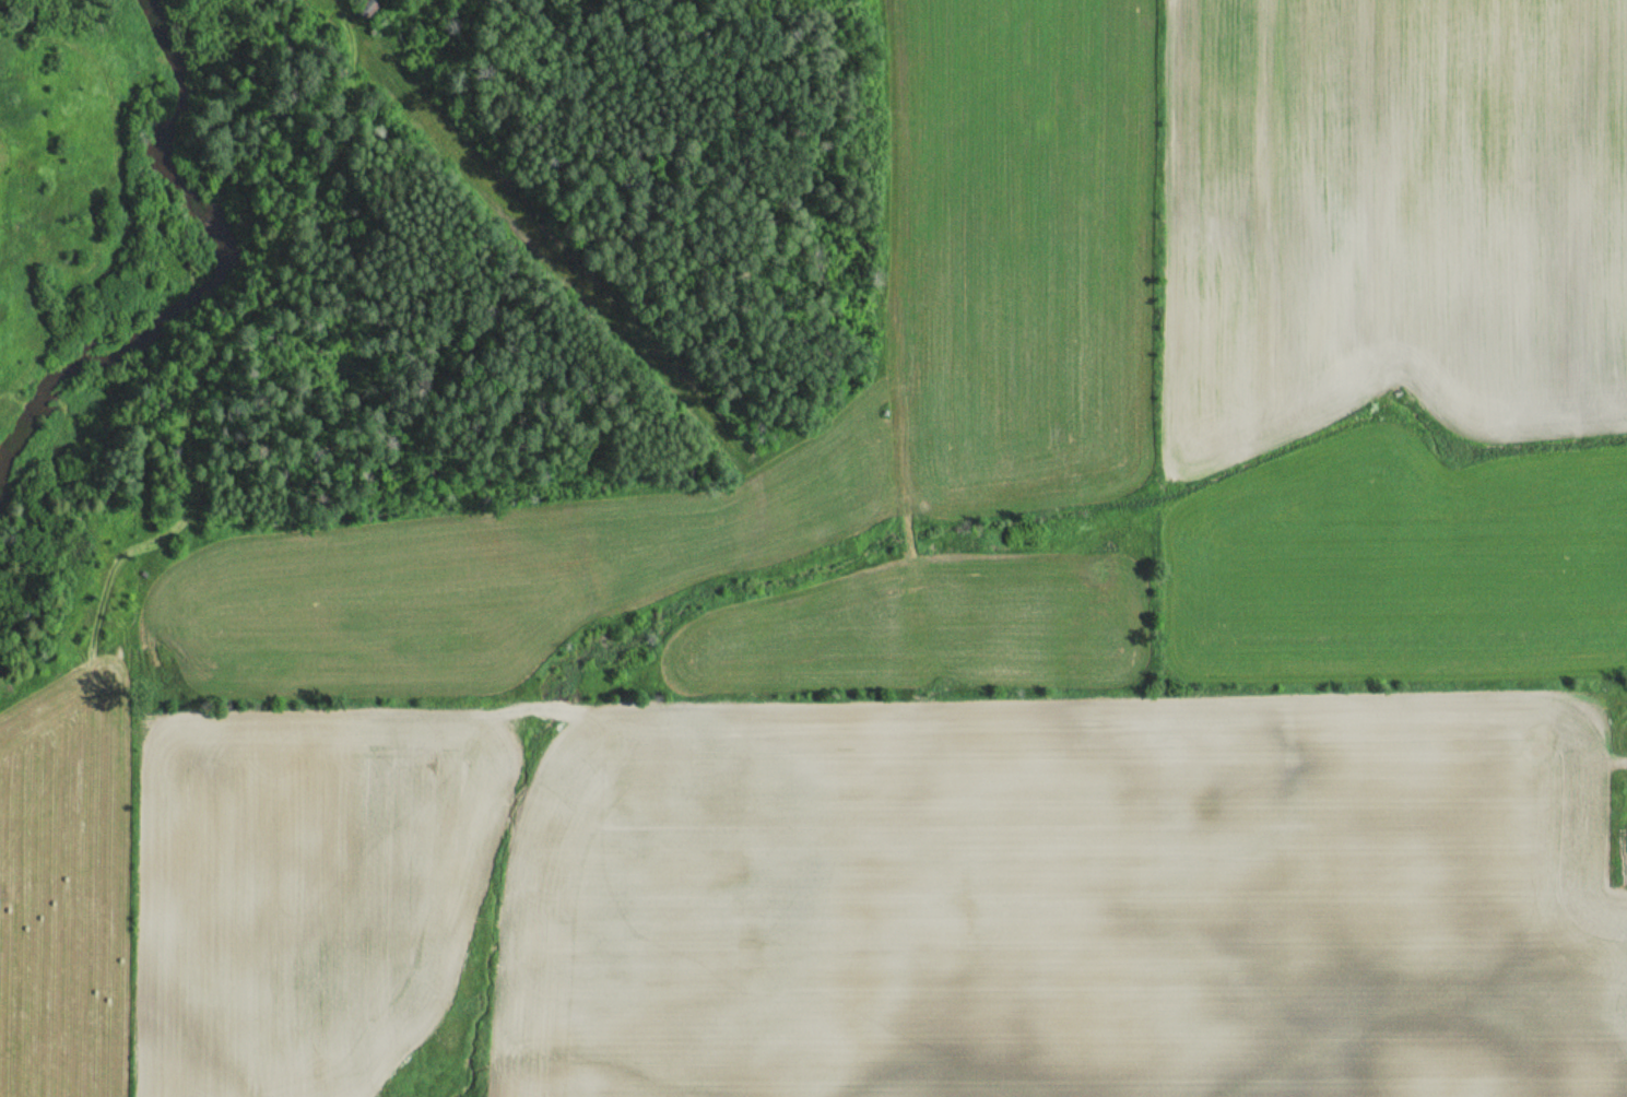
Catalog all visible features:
building: (366, 8)
river: (226, 270)

